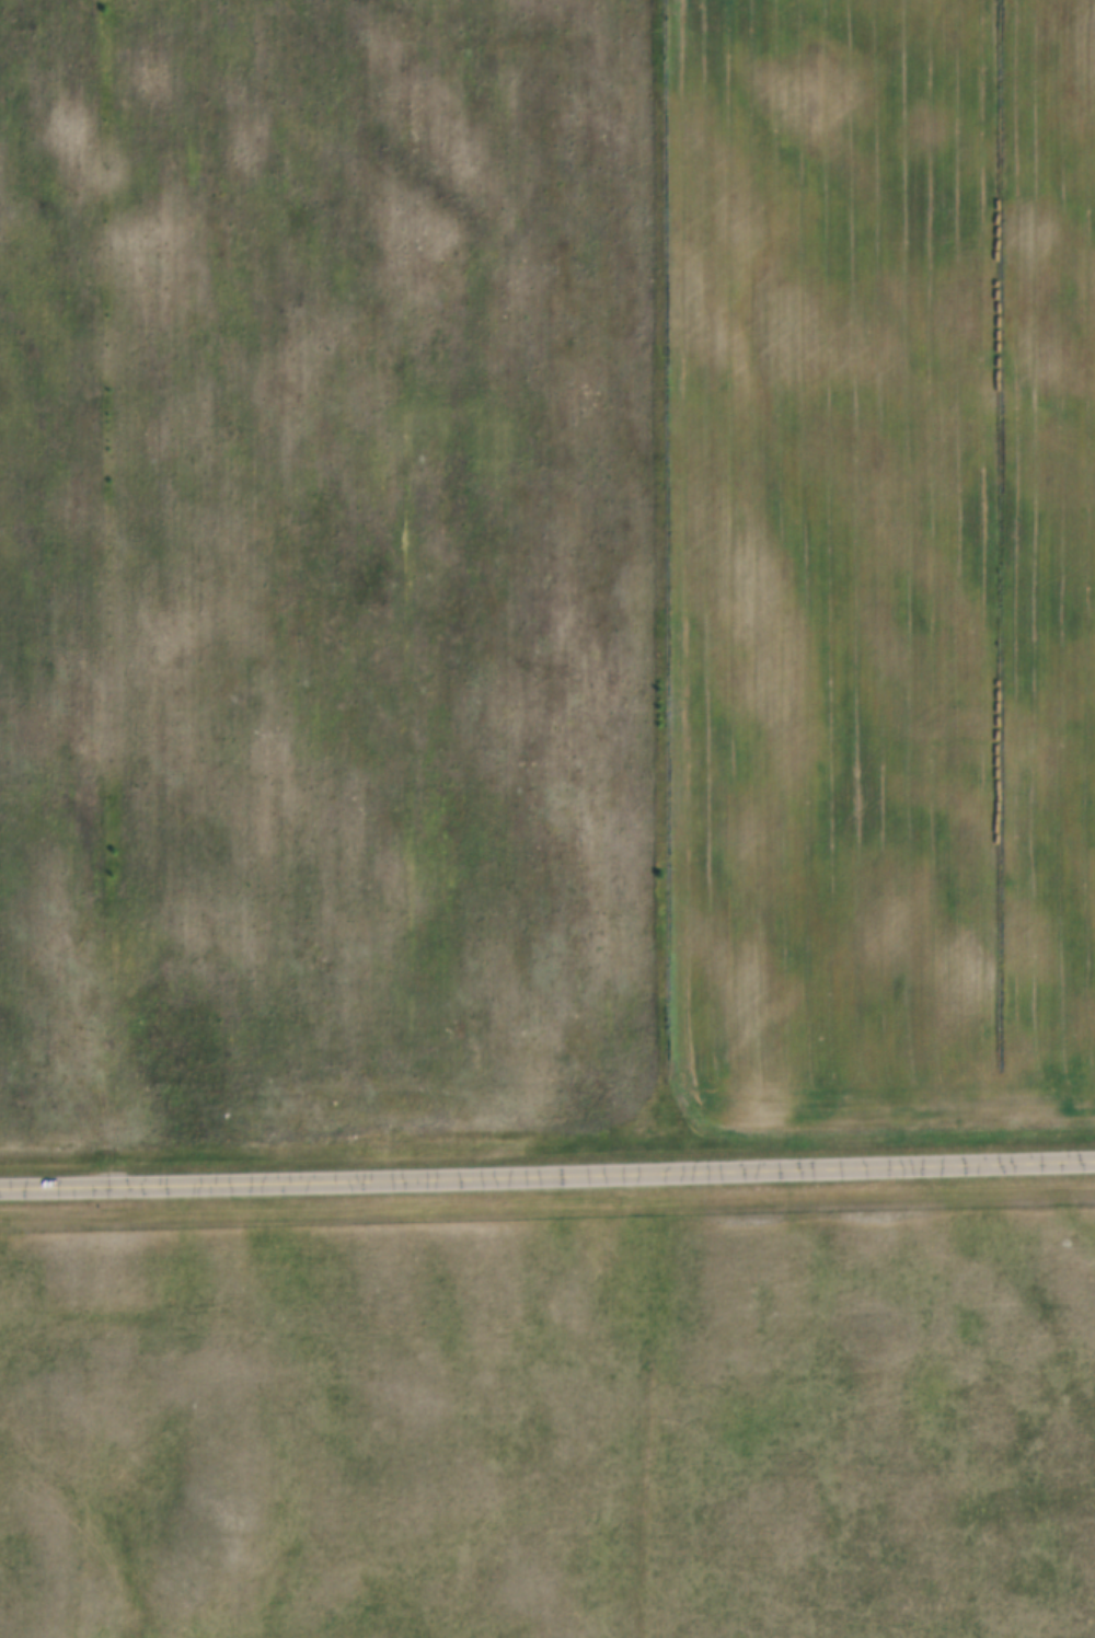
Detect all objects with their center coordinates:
road: (547, 1172)

